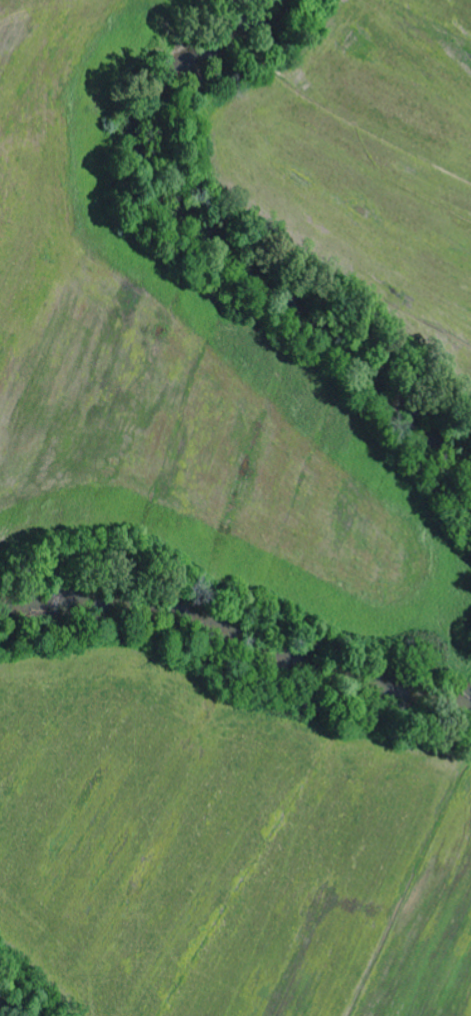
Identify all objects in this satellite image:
river: (225, 246)
river: (238, 632)

